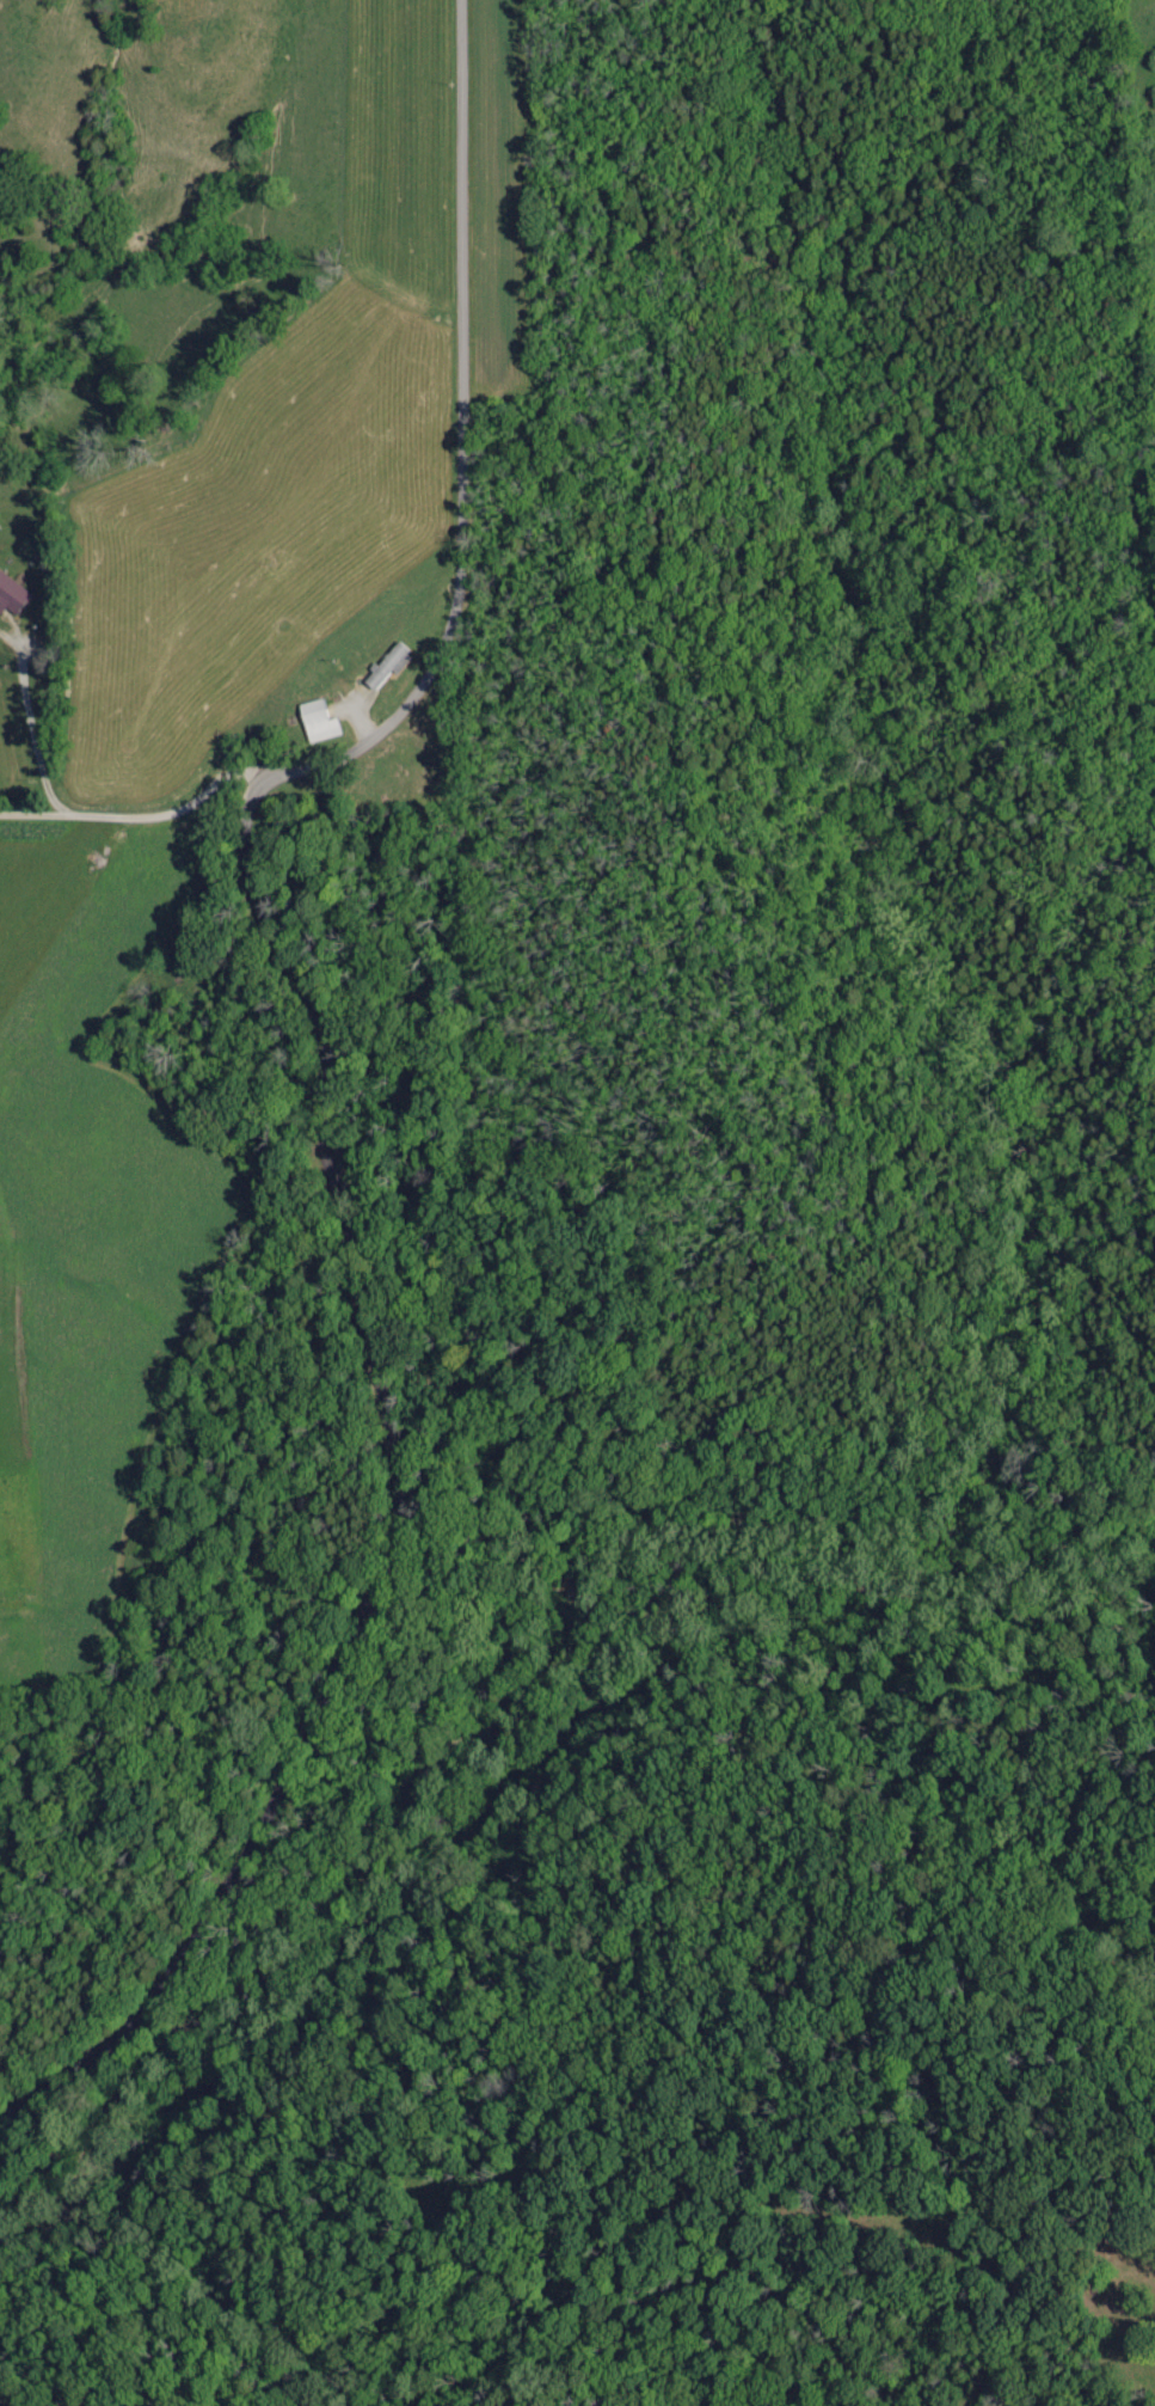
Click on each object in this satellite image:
road: (461, 437)
building: (13, 595)
building: (392, 666)
building: (319, 723)
road: (33, 728)
road: (142, 825)
road: (382, 1493)

